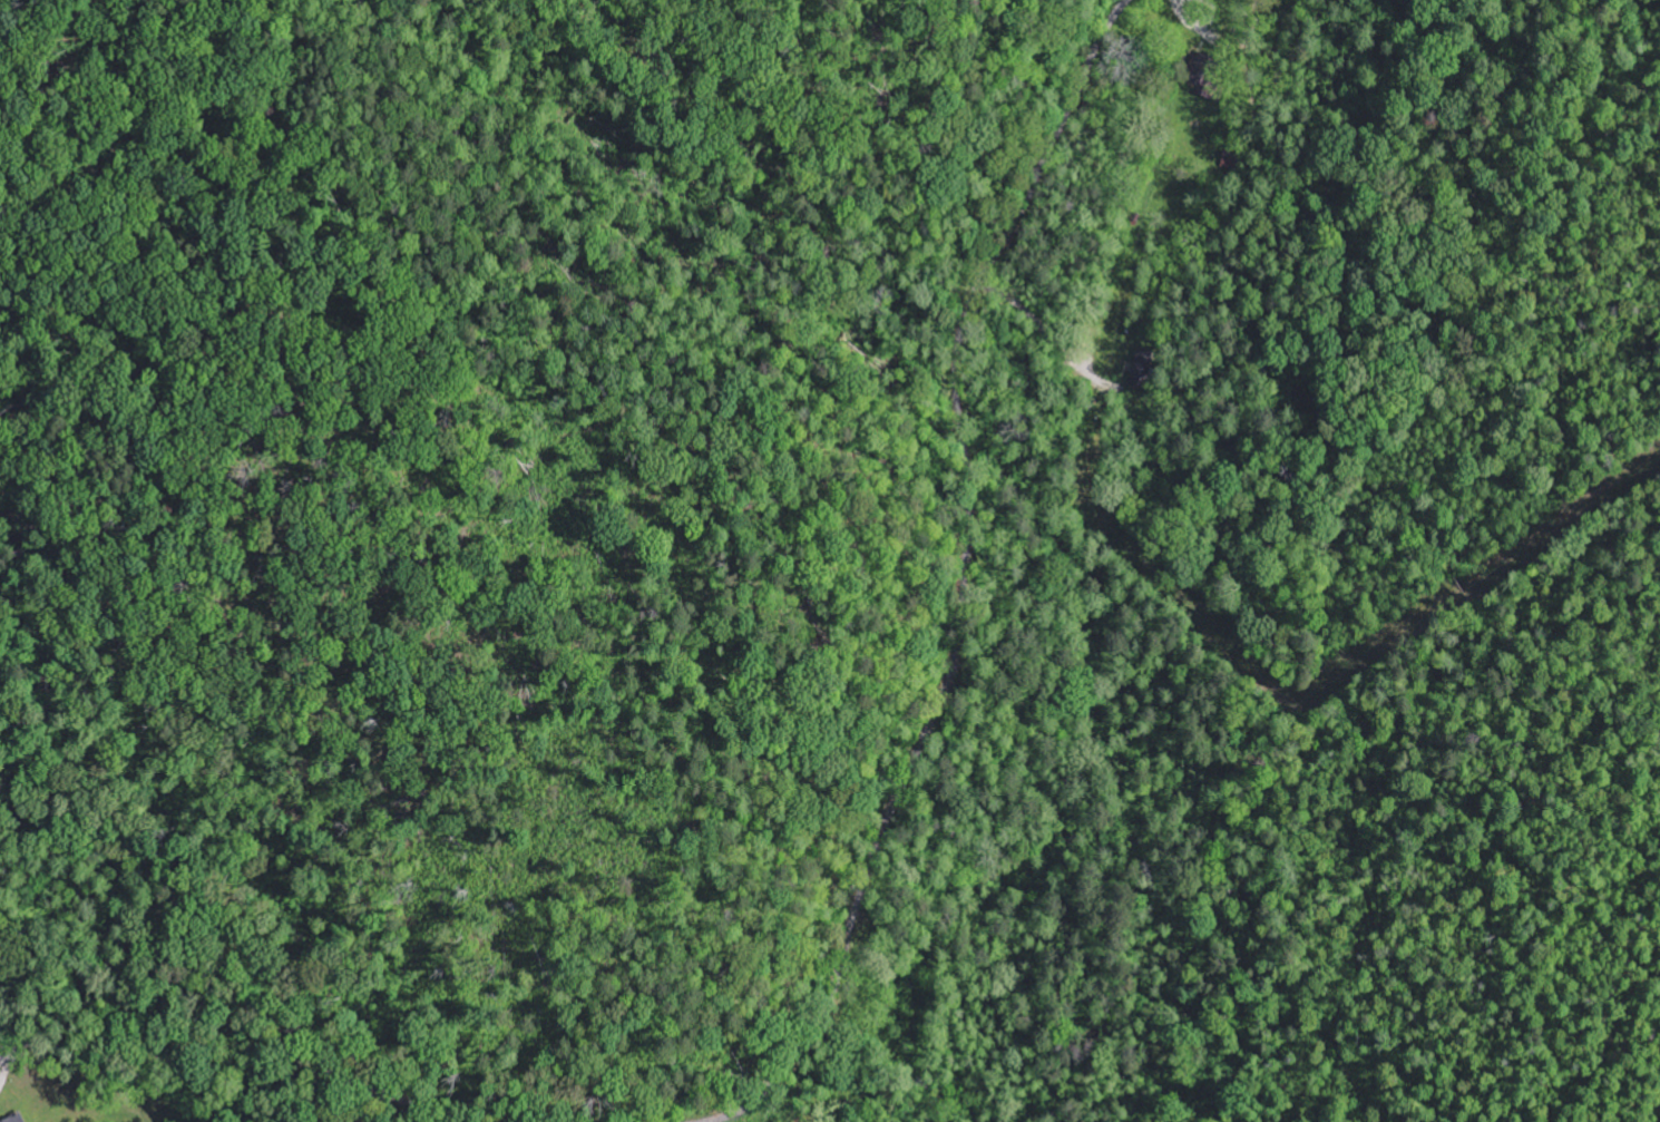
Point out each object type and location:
building: (1207, 78)
building: (1144, 369)
road: (959, 586)
road: (223, 1036)
building: (17, 1119)

